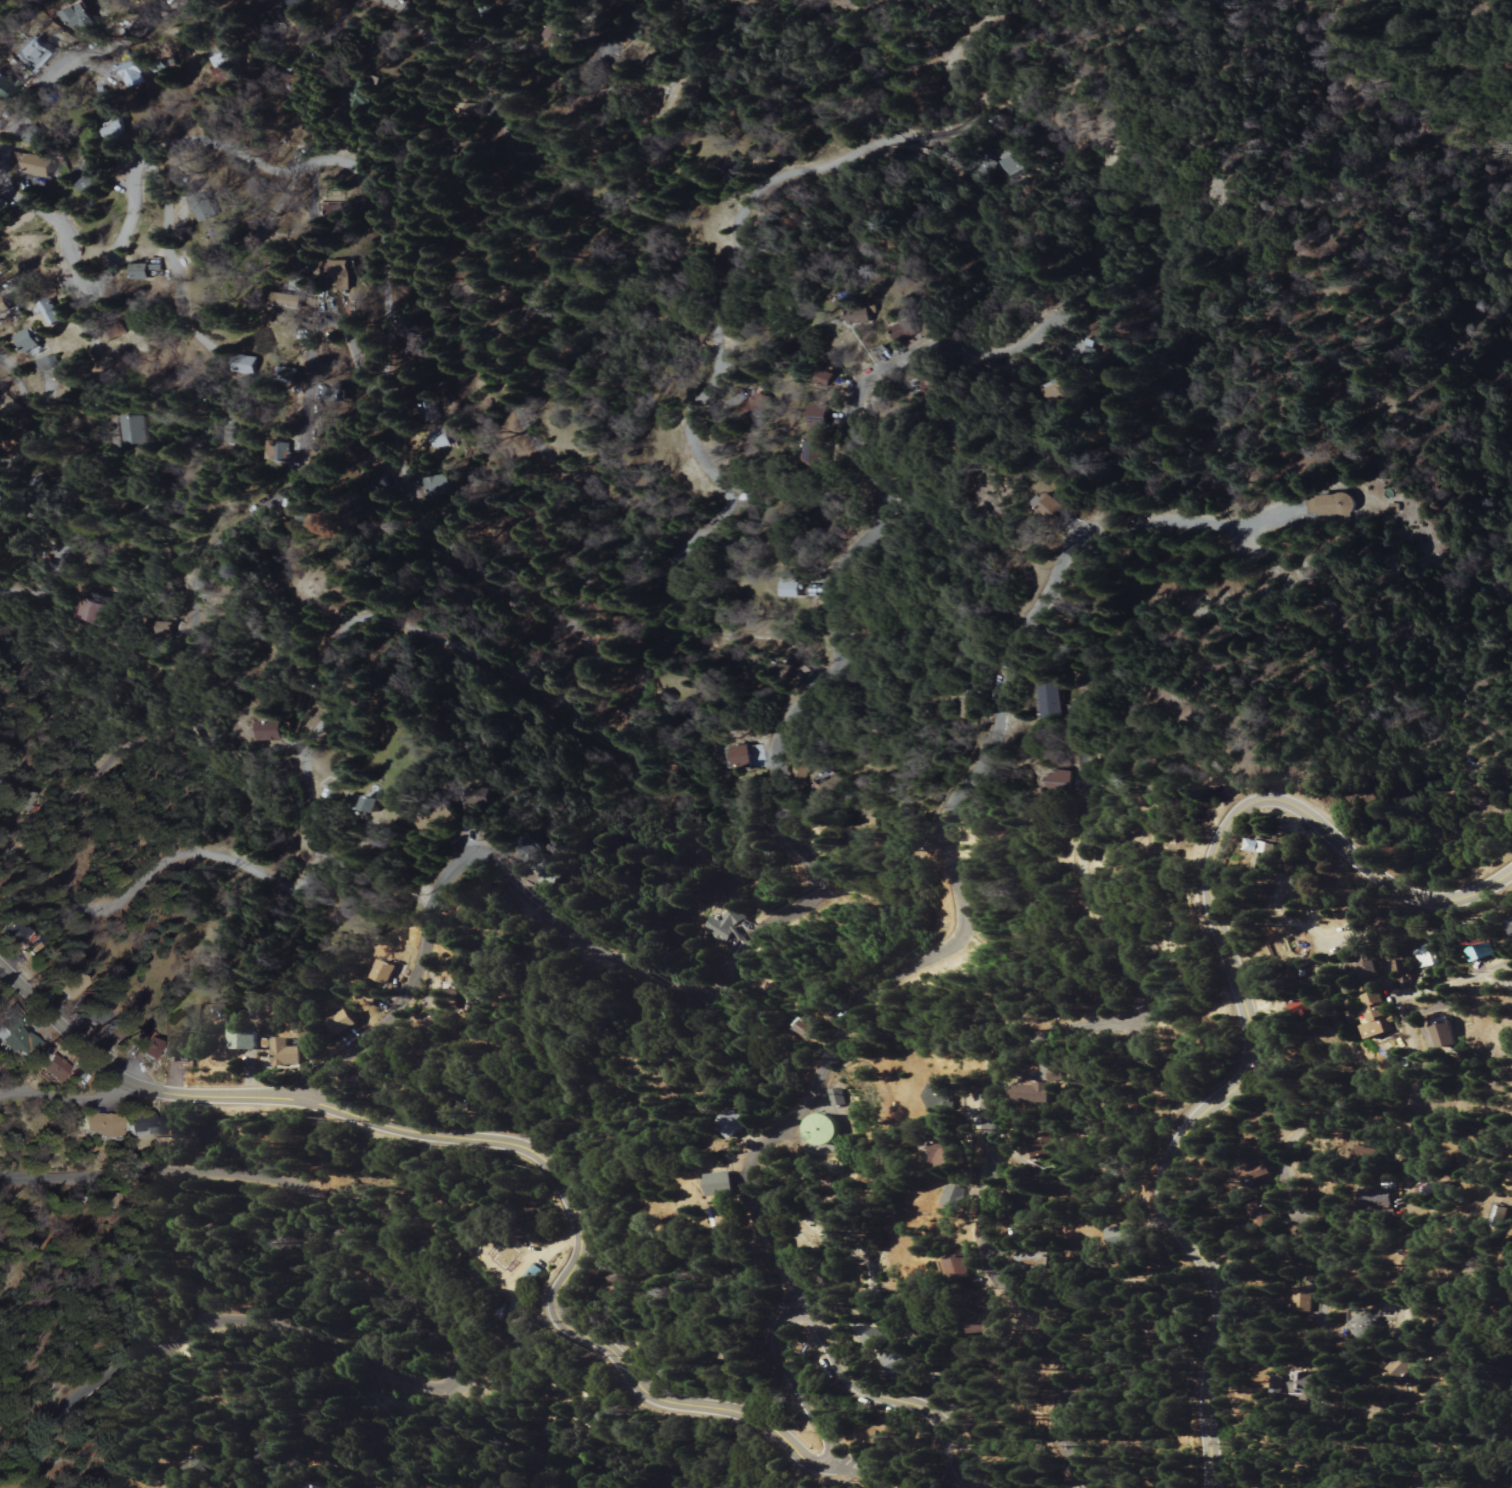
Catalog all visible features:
building: (295, 4)
building: (80, 18)
building: (564, 33)
road: (490, 35)
building: (156, 65)
building: (226, 67)
building: (133, 75)
building: (9, 86)
building: (674, 96)
road: (21, 107)
building: (471, 112)
building: (116, 131)
building: (37, 139)
building: (1013, 163)
building: (39, 165)
road: (350, 172)
building: (735, 173)
building: (86, 178)
building: (205, 207)
building: (333, 212)
road: (125, 235)
road: (170, 266)
building: (338, 267)
building: (149, 270)
building: (4, 305)
building: (52, 313)
building: (905, 330)
building: (28, 341)
road: (351, 346)
building: (45, 365)
building: (246, 365)
building: (829, 380)
building: (932, 387)
building: (1057, 390)
building: (757, 406)
road: (31, 416)
building: (131, 431)
building: (227, 435)
building: (441, 440)
building: (287, 454)
road: (99, 459)
road: (583, 483)
building: (439, 486)
building: (1053, 506)
building: (302, 516)
building: (798, 590)
road: (189, 595)
building: (87, 614)
building: (163, 628)
building: (304, 664)
building: (787, 668)
building: (1057, 701)
building: (967, 708)
road: (635, 719)
building: (274, 732)
building: (759, 755)
building: (747, 757)
building: (796, 767)
building: (1062, 780)
building: (831, 788)
road: (962, 802)
building: (375, 805)
building: (436, 824)
building: (364, 833)
building: (1265, 852)
road: (1084, 864)
building: (549, 876)
road: (815, 876)
building: (729, 925)
building: (1510, 927)
road: (1422, 930)
building: (19, 936)
building: (1425, 955)
building: (1475, 955)
building: (1370, 966)
building: (387, 972)
building: (1401, 973)
road: (1455, 979)
building: (69, 990)
building: (1305, 1007)
road: (1242, 1011)
building: (1379, 1016)
building: (345, 1022)
building: (811, 1029)
building: (1448, 1037)
building: (245, 1038)
building: (18, 1039)
building: (285, 1054)
building: (56, 1069)
building: (1033, 1092)
road: (75, 1098)
building: (835, 1098)
building: (943, 1098)
building: (736, 1124)
road: (1414, 1125)
building: (104, 1127)
building: (142, 1127)
building: (820, 1129)
road: (491, 1142)
building: (1038, 1147)
building: (944, 1155)
building: (1372, 1155)
road: (1286, 1163)
building: (724, 1184)
building: (1441, 1189)
building: (959, 1197)
road: (993, 1206)
building: (1268, 1212)
building: (724, 1213)
building: (1500, 1215)
building: (1124, 1237)
building: (1033, 1259)
building: (959, 1268)
road: (1507, 1272)
building: (530, 1274)
building: (1303, 1300)
building: (1366, 1326)
building: (874, 1339)
building: (725, 1355)
building: (1167, 1356)
road: (460, 1363)
building: (1402, 1367)
road: (791, 1378)
building: (1302, 1384)
road: (896, 1403)
building: (881, 1432)
road: (282, 1444)
building: (269, 1462)
road: (851, 1470)
building: (320, 1486)

